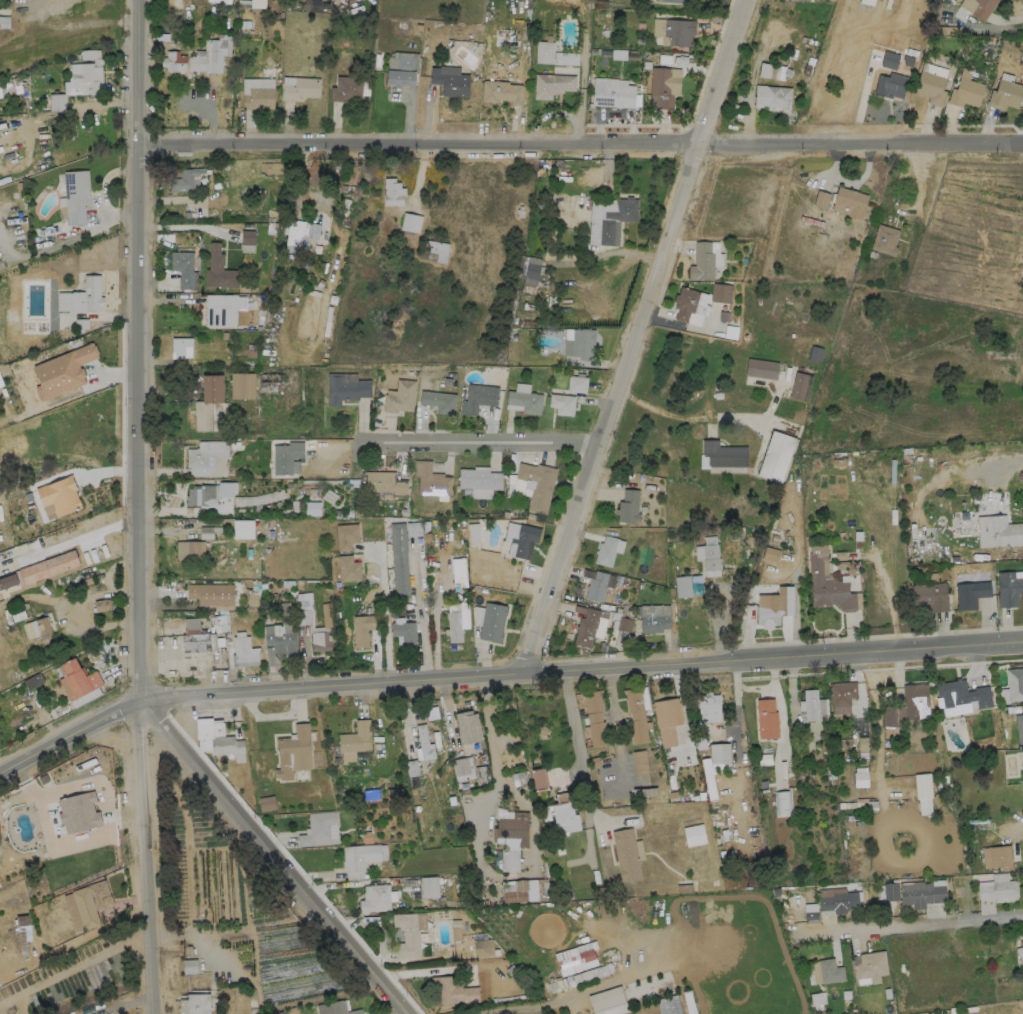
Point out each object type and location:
building: (674, 0)
building: (867, 2)
building: (257, 3)
building: (981, 5)
road: (1014, 18)
building: (4, 22)
building: (673, 30)
building: (1022, 32)
building: (544, 50)
building: (211, 54)
building: (889, 60)
building: (174, 61)
building: (402, 68)
building: (764, 70)
building: (85, 74)
road: (581, 79)
building: (449, 81)
building: (551, 84)
building: (890, 84)
building: (663, 86)
building: (930, 86)
building: (10, 88)
building: (301, 88)
building: (346, 88)
building: (501, 91)
building: (965, 91)
building: (612, 92)
building: (258, 93)
building: (1004, 94)
building: (772, 96)
building: (56, 102)
road: (65, 111)
road: (577, 145)
building: (187, 179)
building: (392, 192)
building: (76, 195)
building: (821, 199)
building: (848, 201)
building: (609, 218)
building: (410, 222)
road: (178, 227)
building: (299, 233)
building: (247, 237)
building: (884, 239)
building: (438, 250)
building: (701, 261)
building: (182, 267)
building: (218, 269)
building: (531, 270)
building: (721, 292)
building: (81, 296)
building: (684, 302)
building: (222, 309)
road: (628, 335)
building: (582, 343)
building: (181, 349)
building: (761, 368)
building: (62, 370)
building: (241, 384)
building: (576, 384)
building: (800, 386)
building: (345, 387)
building: (399, 396)
building: (478, 397)
building: (438, 400)
building: (523, 401)
building: (561, 403)
building: (208, 404)
road: (479, 440)
building: (205, 452)
building: (722, 454)
building: (285, 456)
building: (776, 456)
building: (430, 479)
building: (477, 479)
building: (384, 483)
building: (538, 485)
building: (226, 488)
building: (201, 495)
building: (58, 496)
building: (628, 506)
road: (132, 507)
building: (312, 508)
building: (243, 529)
building: (413, 529)
building: (997, 531)
building: (206, 532)
building: (473, 534)
building: (346, 536)
building: (520, 538)
building: (189, 550)
building: (605, 551)
building: (770, 554)
building: (398, 560)
building: (710, 561)
building: (348, 569)
building: (39, 571)
building: (826, 583)
building: (596, 585)
building: (1009, 587)
building: (211, 593)
building: (970, 593)
building: (929, 596)
building: (100, 605)
building: (773, 606)
road: (420, 615)
building: (654, 617)
road: (385, 618)
building: (492, 621)
building: (620, 623)
road: (98, 624)
building: (42, 625)
building: (454, 626)
building: (363, 628)
building: (585, 628)
building: (403, 630)
building: (279, 637)
building: (319, 641)
building: (195, 642)
building: (243, 652)
road: (503, 677)
building: (75, 679)
building: (1014, 684)
building: (841, 696)
building: (960, 696)
building: (914, 699)
building: (810, 704)
building: (708, 707)
building: (636, 715)
building: (889, 716)
building: (594, 717)
building: (766, 718)
building: (666, 720)
road: (615, 721)
road: (572, 723)
building: (467, 727)
building: (1019, 727)
building: (217, 738)
building: (352, 742)
building: (423, 743)
building: (293, 752)
building: (719, 755)
building: (639, 763)
building: (411, 767)
building: (463, 768)
building: (860, 777)
building: (539, 778)
building: (708, 778)
building: (922, 792)
building: (266, 803)
building: (73, 805)
building: (561, 813)
building: (320, 829)
building: (511, 829)
building: (694, 834)
building: (626, 854)
building: (359, 856)
building: (996, 857)
road: (266, 863)
building: (687, 886)
building: (429, 887)
building: (997, 889)
building: (524, 890)
building: (888, 891)
building: (920, 893)
building: (374, 898)
building: (838, 900)
building: (91, 903)
building: (810, 911)
road: (909, 925)
building: (406, 935)
building: (482, 947)
building: (571, 950)
building: (1019, 951)
building: (189, 966)
building: (870, 966)
road: (72, 969)
building: (604, 969)
building: (828, 971)
building: (452, 990)
building: (603, 995)
building: (817, 999)
building: (194, 1004)
building: (669, 1005)
building: (335, 1008)

